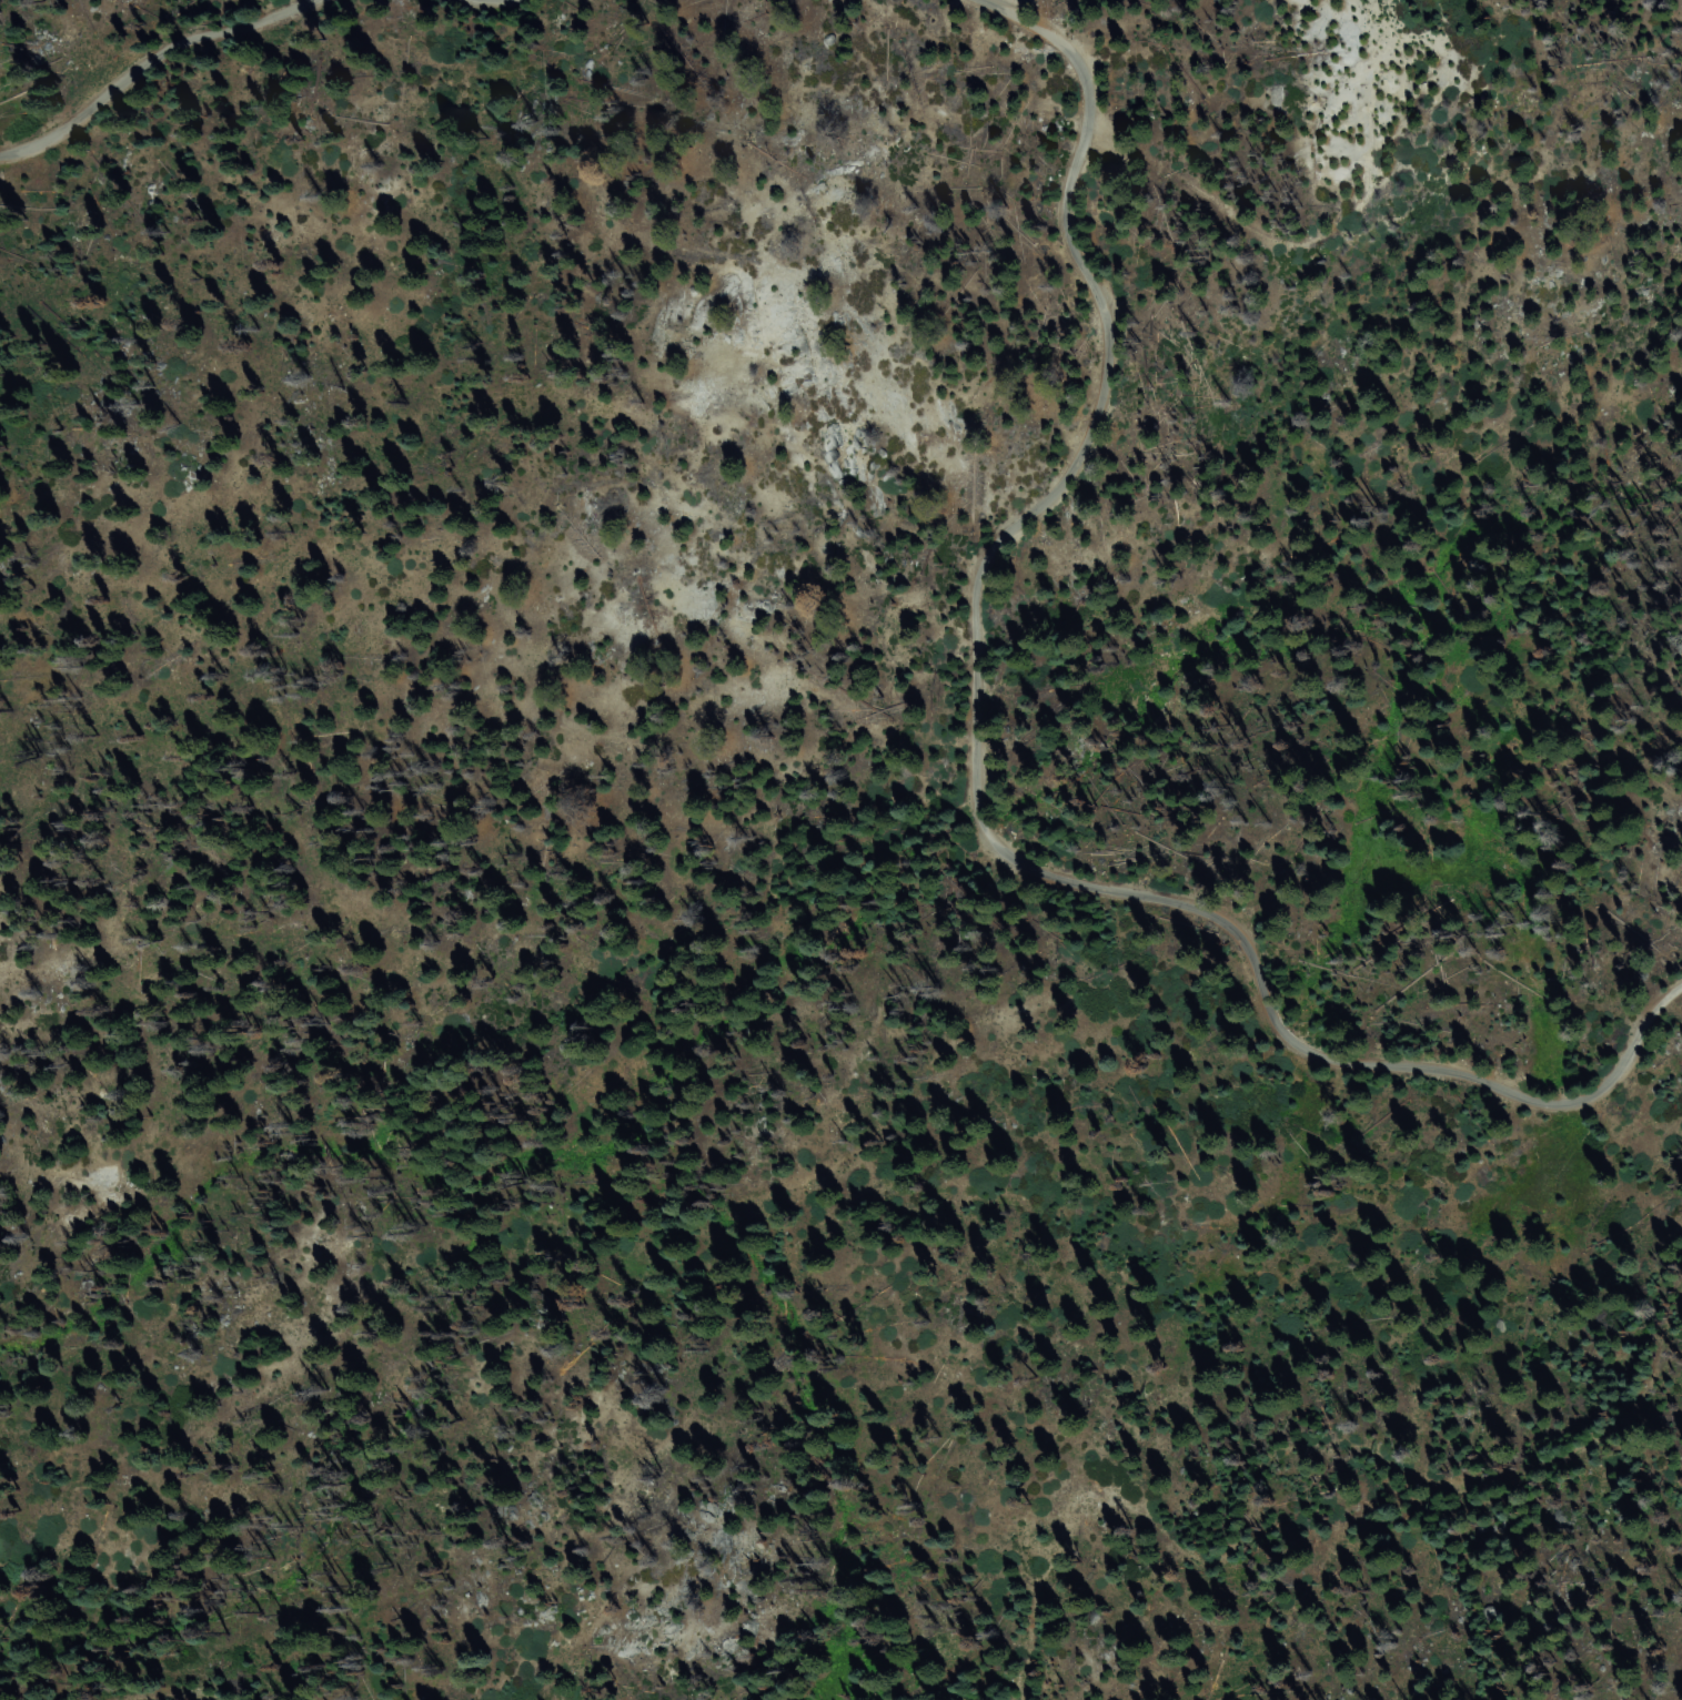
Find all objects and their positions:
road: (151, 60)
quarry: (1363, 95)
road: (971, 791)
road: (1070, 1609)
road: (84, 1699)

